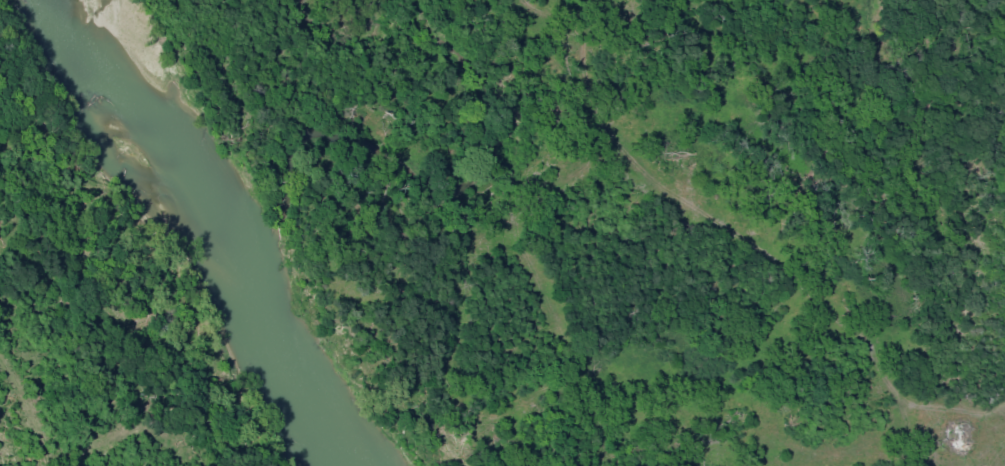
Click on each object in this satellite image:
river: (216, 226)

